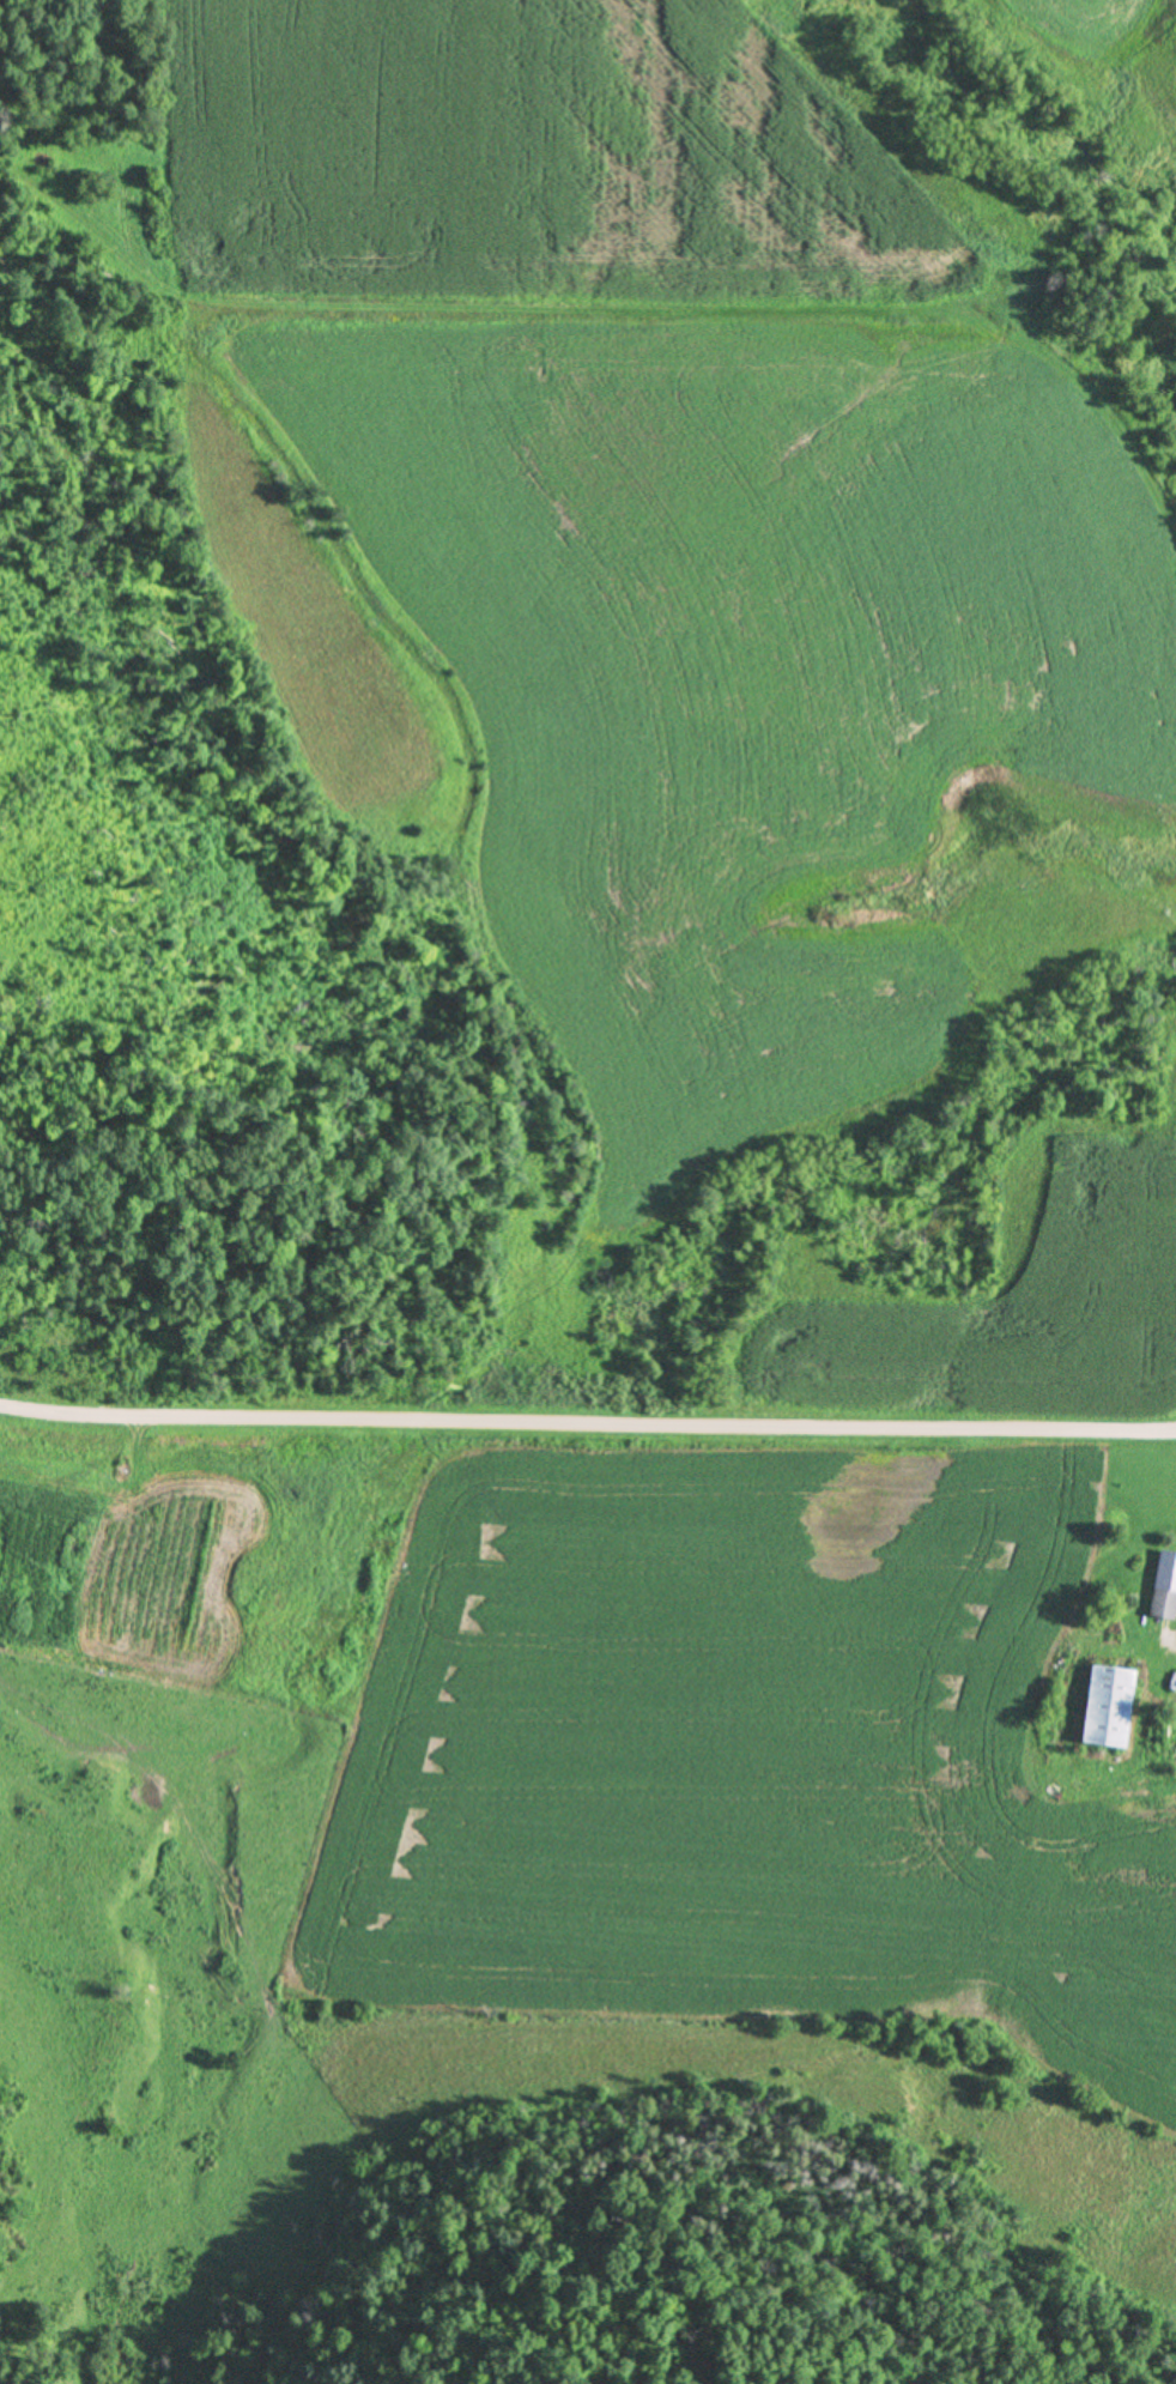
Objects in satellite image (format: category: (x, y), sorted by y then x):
road: (587, 1423)
building: (1162, 1587)
building: (1103, 1707)
building: (1168, 1741)

